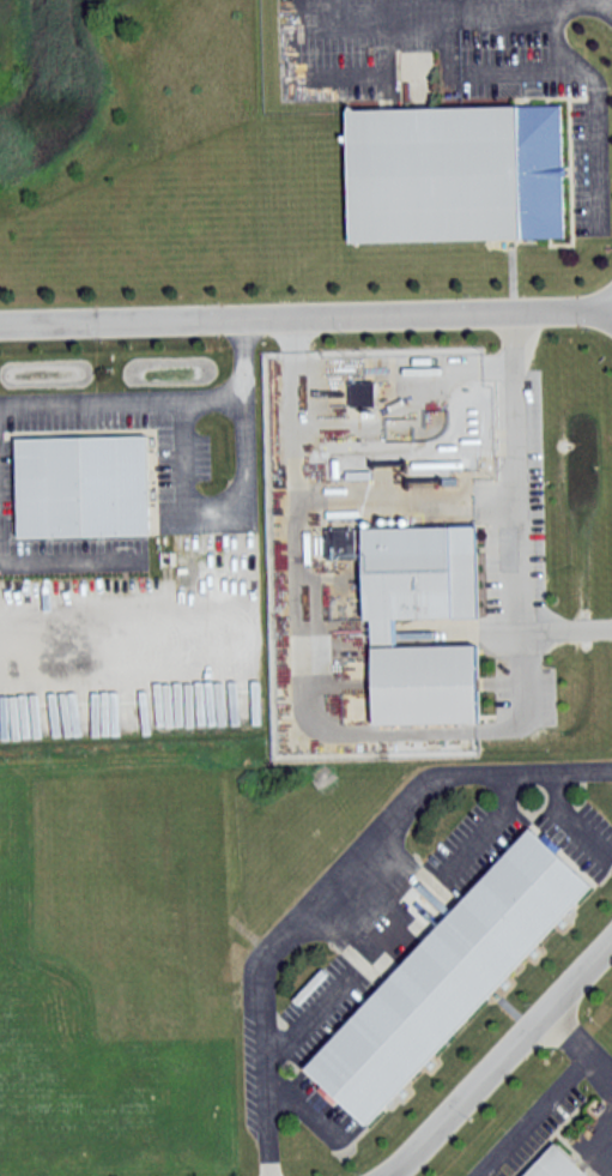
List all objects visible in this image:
road: (557, 1)
road: (448, 6)
road: (595, 102)
building: (454, 171)
road: (305, 318)
building: (363, 393)
road: (89, 406)
road: (182, 478)
building: (81, 486)
road: (515, 531)
building: (341, 542)
road: (67, 562)
road: (293, 605)
road: (119, 619)
building: (381, 631)
road: (564, 634)
road: (337, 881)
building: (447, 977)
road: (578, 1051)
road: (501, 1061)
building: (555, 1164)

